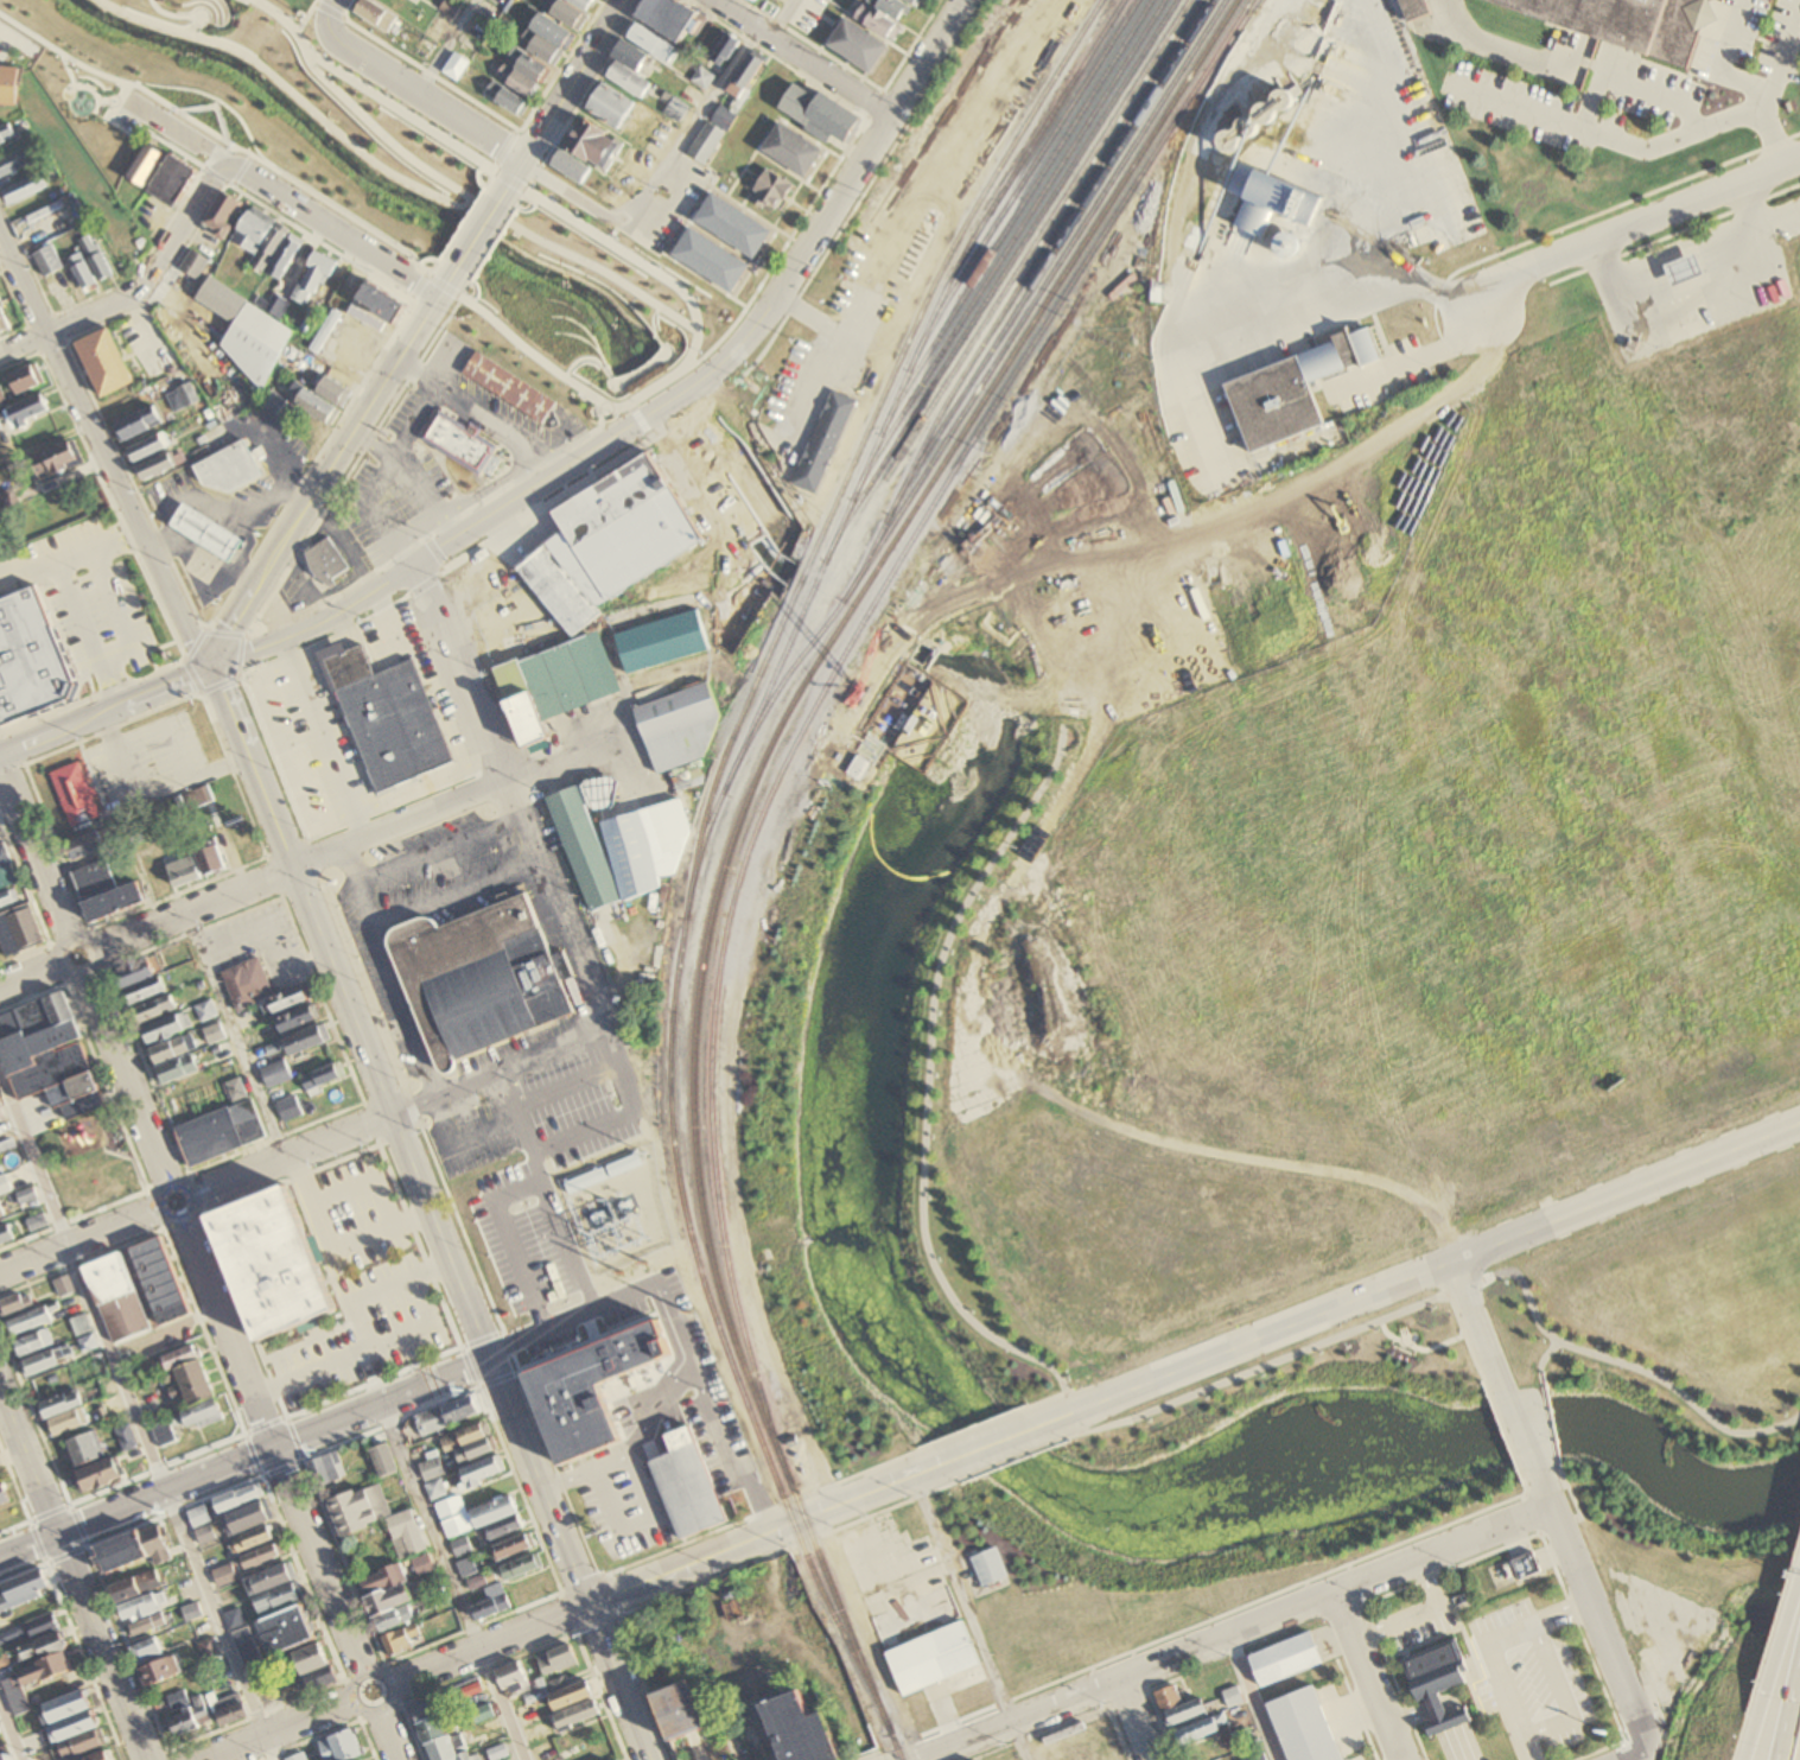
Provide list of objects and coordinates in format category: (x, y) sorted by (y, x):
road: (243, 1)
road: (316, 1)
fountain: (217, 7)
road: (345, 8)
road: (329, 9)
building: (1417, 9)
road: (224, 11)
road: (178, 14)
street lamp: (292, 15)
road: (305, 15)
road: (780, 17)
road: (203, 19)
road: (212, 23)
road: (218, 23)
building: (1626, 23)
street lamp: (345, 24)
road: (187, 30)
road: (13, 37)
road: (447, 45)
street lamp: (324, 52)
road: (1501, 53)
road: (803, 57)
road: (561, 65)
street lamp: (76, 69)
road: (431, 71)
road: (1609, 77)
road: (572, 78)
building: (7, 82)
street lamp: (437, 82)
road: (591, 82)
road: (82, 84)
road: (412, 85)
road: (1753, 85)
road: (125, 89)
road: (373, 91)
street lamp: (386, 93)
road: (872, 102)
road: (97, 104)
road: (215, 104)
road: (1514, 106)
road: (179, 108)
road: (1769, 108)
road: (399, 109)
street lamp: (170, 110)
parking lot: (125, 117)
road: (692, 120)
road: (1717, 125)
road: (142, 127)
road: (179, 129)
road: (379, 131)
road: (516, 131)
street lamp: (447, 132)
road: (220, 136)
road: (224, 138)
road: (228, 141)
road: (507, 148)
road: (217, 150)
road: (1280, 152)
street lamp: (236, 153)
road: (248, 155)
building: (141, 161)
road: (936, 161)
street lamp: (476, 169)
road: (516, 169)
road: (238, 170)
road: (535, 170)
road: (216, 174)
road: (395, 174)
road: (477, 174)
road: (504, 176)
building: (167, 178)
road: (489, 178)
road: (515, 182)
railway: (1020, 182)
street lamp: (534, 183)
park: (382, 185)
street lamp: (298, 189)
road: (502, 191)
road: (520, 192)
road: (572, 195)
building: (1266, 198)
street lamp: (535, 205)
road: (527, 207)
street lamp: (466, 209)
street lamp: (573, 210)
road: (829, 210)
road: (1586, 215)
building: (222, 216)
railway: (1015, 216)
road: (1780, 220)
road: (462, 223)
road: (1633, 224)
building: (247, 227)
street lamp: (360, 227)
road: (331, 228)
street lamp: (452, 231)
street lamp: (501, 231)
road: (1673, 231)
road: (476, 233)
building: (259, 235)
street lamp: (616, 236)
railway: (1035, 240)
road: (317, 241)
road: (490, 241)
building: (272, 246)
road: (781, 248)
railway: (1005, 248)
railway: (1150, 250)
street lamp: (488, 253)
road: (426, 255)
road: (144, 256)
building: (286, 256)
railway: (1049, 256)
road: (26, 258)
street lamp: (420, 258)
road: (435, 262)
building: (193, 265)
street lamp: (574, 265)
street lamp: (660, 266)
road: (648, 267)
road: (426, 273)
building: (316, 278)
road: (446, 278)
road: (163, 279)
railway: (999, 279)
road: (444, 281)
road: (465, 281)
road: (23, 284)
road: (415, 284)
road: (475, 288)
road: (138, 290)
railway: (1013, 292)
road: (1697, 293)
street lamp: (476, 296)
street lamp: (629, 297)
road: (407, 298)
street lamp: (697, 298)
building: (221, 299)
building: (375, 300)
building: (273, 303)
road: (473, 304)
road: (19, 309)
flagpole: (725, 310)
flagpole: (469, 312)
road: (808, 313)
flagpole: (456, 314)
flagpole: (463, 316)
flagpole: (720, 318)
flagpole: (729, 318)
street lamp: (482, 320)
building: (309, 324)
street lamp: (441, 329)
road: (145, 330)
road: (64, 338)
building: (257, 343)
parking lot: (150, 348)
street lamp: (515, 349)
street lamp: (700, 351)
road: (1410, 360)
building: (106, 364)
road: (553, 367)
road: (416, 370)
road: (630, 373)
road: (1182, 373)
railway: (984, 379)
road: (813, 381)
building: (508, 385)
street lamp: (561, 385)
road: (661, 385)
building: (1290, 387)
building: (332, 390)
road: (721, 393)
building: (190, 394)
road: (669, 399)
building: (176, 401)
building: (275, 402)
road: (629, 404)
building: (313, 405)
road: (470, 406)
road: (635, 413)
street lamp: (616, 414)
road: (413, 419)
building: (138, 424)
railway: (884, 424)
road: (642, 425)
road: (584, 431)
road: (647, 434)
building: (821, 439)
parking lot: (273, 440)
building: (460, 440)
road: (528, 440)
road: (371, 441)
street lamp: (629, 445)
building: (150, 449)
road: (269, 453)
road: (440, 455)
road: (565, 455)
parking lot: (416, 463)
road: (739, 464)
building: (160, 465)
road: (440, 465)
building: (228, 466)
road: (305, 466)
road: (384, 466)
street lamp: (586, 471)
road: (318, 481)
road: (541, 481)
road: (496, 482)
road: (136, 483)
park: (738, 484)
street lamp: (543, 498)
road: (126, 500)
road: (112, 504)
road: (256, 512)
building: (203, 529)
gas station: (203, 529)
road: (425, 536)
street lamp: (479, 538)
building: (605, 540)
road: (341, 542)
road: (68, 549)
road: (432, 549)
road: (781, 554)
road: (203, 555)
street lamp: (450, 557)
road: (776, 559)
building: (326, 561)
road: (440, 566)
road: (305, 580)
road: (424, 582)
parking lot: (294, 592)
parking lot: (91, 597)
road: (994, 609)
road: (120, 611)
road: (946, 615)
road: (255, 617)
road: (386, 620)
road: (312, 622)
road: (85, 630)
road: (206, 631)
road: (202, 633)
road: (224, 633)
road: (241, 636)
road: (242, 638)
road: (326, 640)
building: (659, 640)
road: (192, 644)
road: (330, 644)
building: (28, 655)
road: (240, 655)
road: (184, 657)
railway: (795, 661)
parking lot: (419, 668)
traffic signals: (205, 669)
road: (953, 669)
road: (458, 671)
road: (191, 678)
road: (949, 678)
building: (549, 682)
road: (217, 684)
road: (1058, 693)
railway: (819, 695)
road: (102, 711)
building: (389, 718)
building: (675, 722)
road: (320, 737)
parking lot: (312, 743)
road: (176, 752)
road: (281, 752)
parking lot: (147, 762)
building: (856, 767)
road: (422, 786)
road: (150, 794)
building: (75, 795)
railway: (736, 830)
road: (316, 837)
railway: (699, 839)
building: (643, 843)
building: (579, 847)
road: (438, 849)
road: (34, 860)
road: (300, 864)
road: (454, 890)
road: (554, 903)
parking lot: (424, 904)
road: (389, 971)
road: (28, 976)
road: (77, 976)
building: (485, 976)
park: (858, 981)
road: (234, 1035)
road: (123, 1080)
road: (566, 1080)
road: (104, 1082)
road: (445, 1092)
road: (926, 1103)
road: (412, 1104)
road: (622, 1114)
road: (370, 1122)
road: (401, 1131)
road: (400, 1133)
parking lot: (471, 1133)
road: (463, 1138)
road: (129, 1161)
park: (96, 1171)
parking lot: (516, 1175)
road: (238, 1176)
road: (292, 1178)
road: (365, 1180)
road: (547, 1188)
road: (311, 1201)
road: (107, 1206)
power substation: (617, 1209)
road: (183, 1220)
road: (459, 1225)
road: (379, 1230)
road: (509, 1238)
road: (77, 1240)
road: (420, 1244)
power tower: (642, 1262)
building: (275, 1264)
road: (1420, 1271)
road: (1502, 1276)
street lamp: (1506, 1285)
road: (1461, 1286)
road: (376, 1289)
street lamp: (1436, 1309)
power tower: (685, 1313)
road: (244, 1314)
road: (589, 1323)
road: (1475, 1323)
road: (500, 1329)
street lamp: (1375, 1330)
road: (481, 1336)
road: (591, 1338)
road: (516, 1340)
road: (1467, 1340)
street lamp: (1543, 1341)
street lamp: (1594, 1343)
road: (509, 1345)
road: (1417, 1347)
road: (361, 1348)
flagpole: (1392, 1352)
street lamp: (1316, 1353)
flagpole: (1399, 1355)
flagpole: (1405, 1358)
road: (1540, 1360)
road: (1627, 1362)
road: (1262, 1365)
road: (469, 1366)
road: (1249, 1370)
street lamp: (1662, 1372)
road: (498, 1375)
street lamp: (1259, 1377)
street lamp: (1069, 1378)
road: (371, 1380)
street lamp: (1546, 1384)
building: (583, 1387)
parking lot: (701, 1387)
street lamp: (1482, 1389)
road: (1043, 1398)
street lamp: (1203, 1400)
street lamp: (1019, 1403)
road: (651, 1409)
road: (1071, 1409)
street lamp: (1713, 1409)
road: (4, 1410)
street lamp: (1551, 1410)
street lamp: (1782, 1413)
street lamp: (988, 1416)
street lamp: (1494, 1417)
road: (136, 1419)
street lamp: (1146, 1422)
road: (387, 1423)
road: (974, 1425)
road: (1550, 1427)
street lamp: (958, 1428)
road: (1519, 1430)
road: (1502, 1432)
road: (1069, 1434)
road: (992, 1441)
street lamp: (1066, 1441)
street lamp: (922, 1442)
street lamp: (1558, 1444)
road: (271, 1447)
road: (723, 1448)
street lamp: (1507, 1450)
street lamp: (1035, 1453)
road: (12, 1455)
road: (1010, 1457)
road: (554, 1466)
street lamp: (1000, 1467)
street lamp: (1563, 1469)
street lamp: (1518, 1478)
road: (190, 1481)
street lamp: (965, 1481)
building: (685, 1482)
road: (1524, 1483)
road: (517, 1487)
road: (1544, 1489)
road: (1570, 1494)
parking lot: (625, 1508)
road: (761, 1510)
road: (1534, 1512)
road: (1554, 1514)
road: (1579, 1518)
road: (636, 1521)
road: (1565, 1521)
road: (1551, 1529)
road: (764, 1531)
road: (787, 1548)
power tower: (783, 1552)
building: (987, 1565)
road: (1440, 1572)
road: (75, 1574)
road: (452, 1581)
road: (580, 1581)
road: (605, 1595)
traffic signals: (586, 1602)
road: (568, 1609)
road: (1414, 1613)
road: (969, 1615)
parking lot: (1417, 1621)
road: (597, 1622)
road: (1188, 1625)
road: (471, 1626)
road: (1601, 1627)
road: (1233, 1632)
road: (867, 1635)
road: (486, 1641)
road: (1585, 1644)
road: (1494, 1653)
building: (930, 1654)
building: (1287, 1659)
road: (488, 1666)
road: (374, 1671)
parking lot: (1528, 1672)
road: (1366, 1676)
building: (1436, 1679)
road: (617, 1680)
road: (1395, 1680)
road: (1785, 1684)
road: (642, 1688)
road: (600, 1692)
road: (1350, 1692)
road: (1562, 1694)
road: (1019, 1695)
building: (1164, 1695)
building: (1234, 1696)
road: (1247, 1698)
building: (1215, 1699)
building: (675, 1708)
building: (1184, 1711)
road: (1438, 1713)
road: (1075, 1717)
road: (1133, 1720)
road: (1160, 1724)
building: (1305, 1727)
road: (279, 1729)
building: (795, 1730)
building: (1202, 1730)
road: (1118, 1733)
road: (8, 1734)
road: (387, 1734)
road: (1641, 1746)
road: (1598, 1751)
road: (1766, 1753)
road: (1767, 1753)
building: (1254, 1756)
road: (1624, 1758)
building: (977, 1759)

